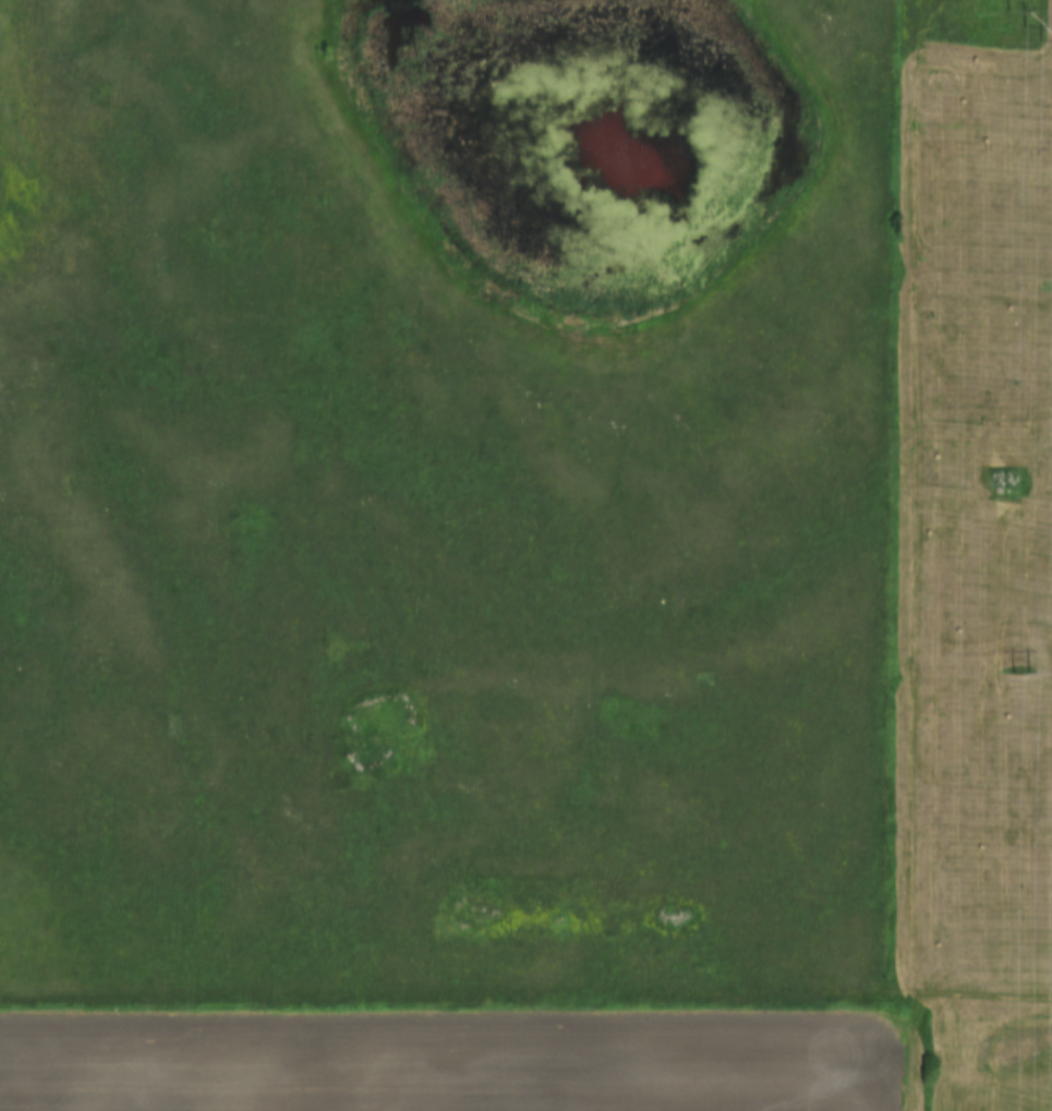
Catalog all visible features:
power tower: (1024, 31)
power tower: (1019, 676)

